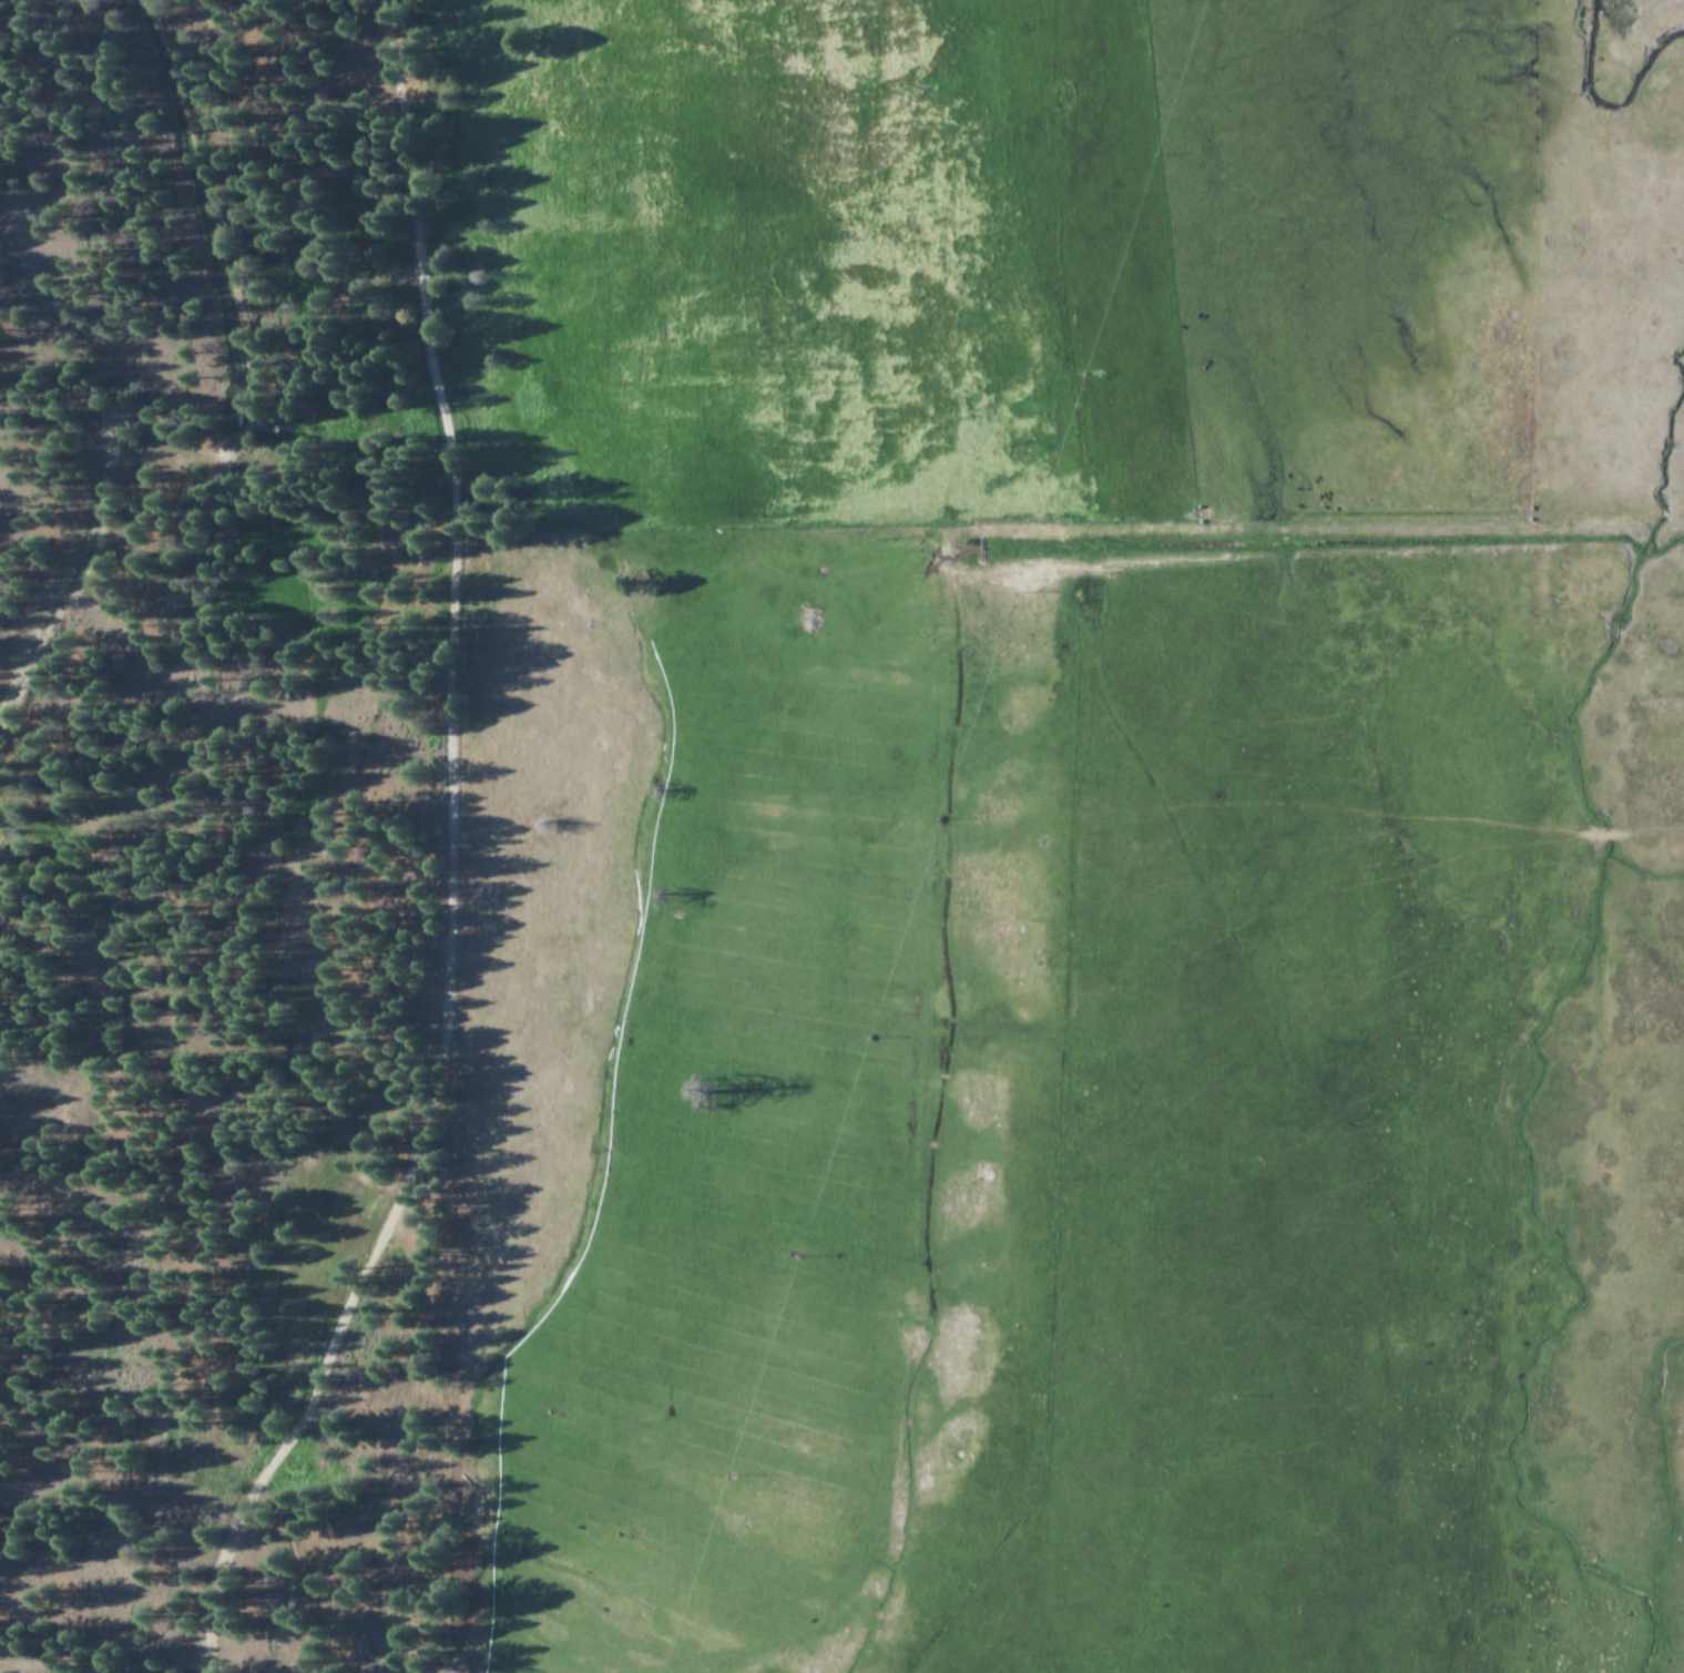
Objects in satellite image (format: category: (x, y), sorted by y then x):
road: (448, 859)
park: (6, 1672)

